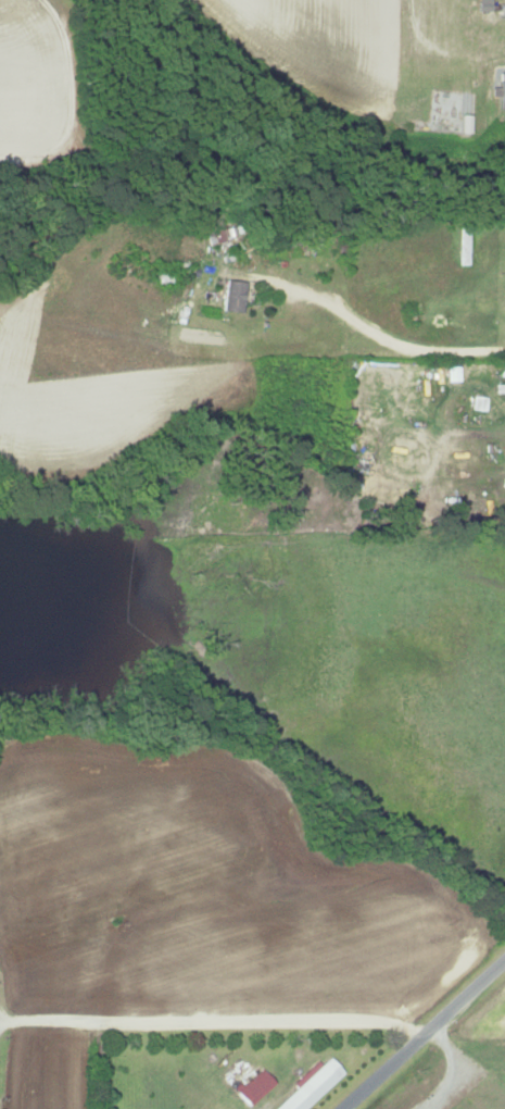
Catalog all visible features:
building: (504, 7)
building: (501, 90)
building: (463, 123)
building: (232, 296)
road: (399, 344)
building: (478, 402)
building: (458, 466)
road: (213, 1026)
road: (422, 1034)
road: (453, 1070)
park: (447, 1073)
building: (255, 1086)
building: (312, 1087)

